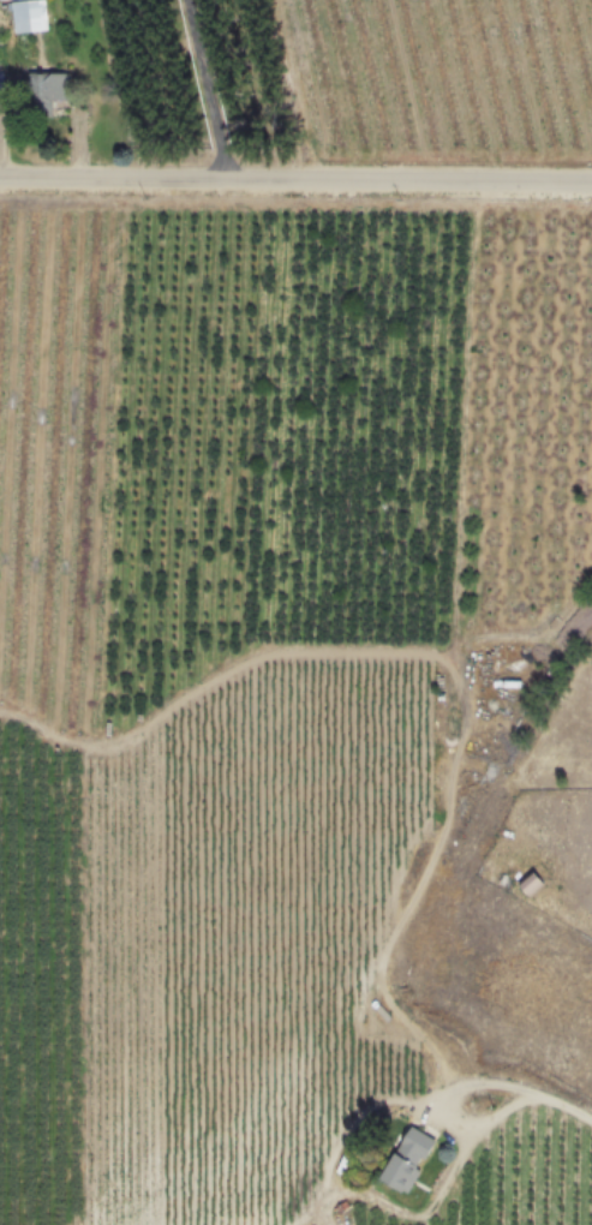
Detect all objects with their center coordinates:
building: (28, 17)
building: (46, 91)
road: (214, 91)
road: (295, 186)
road: (452, 728)
building: (530, 883)
building: (406, 1159)

